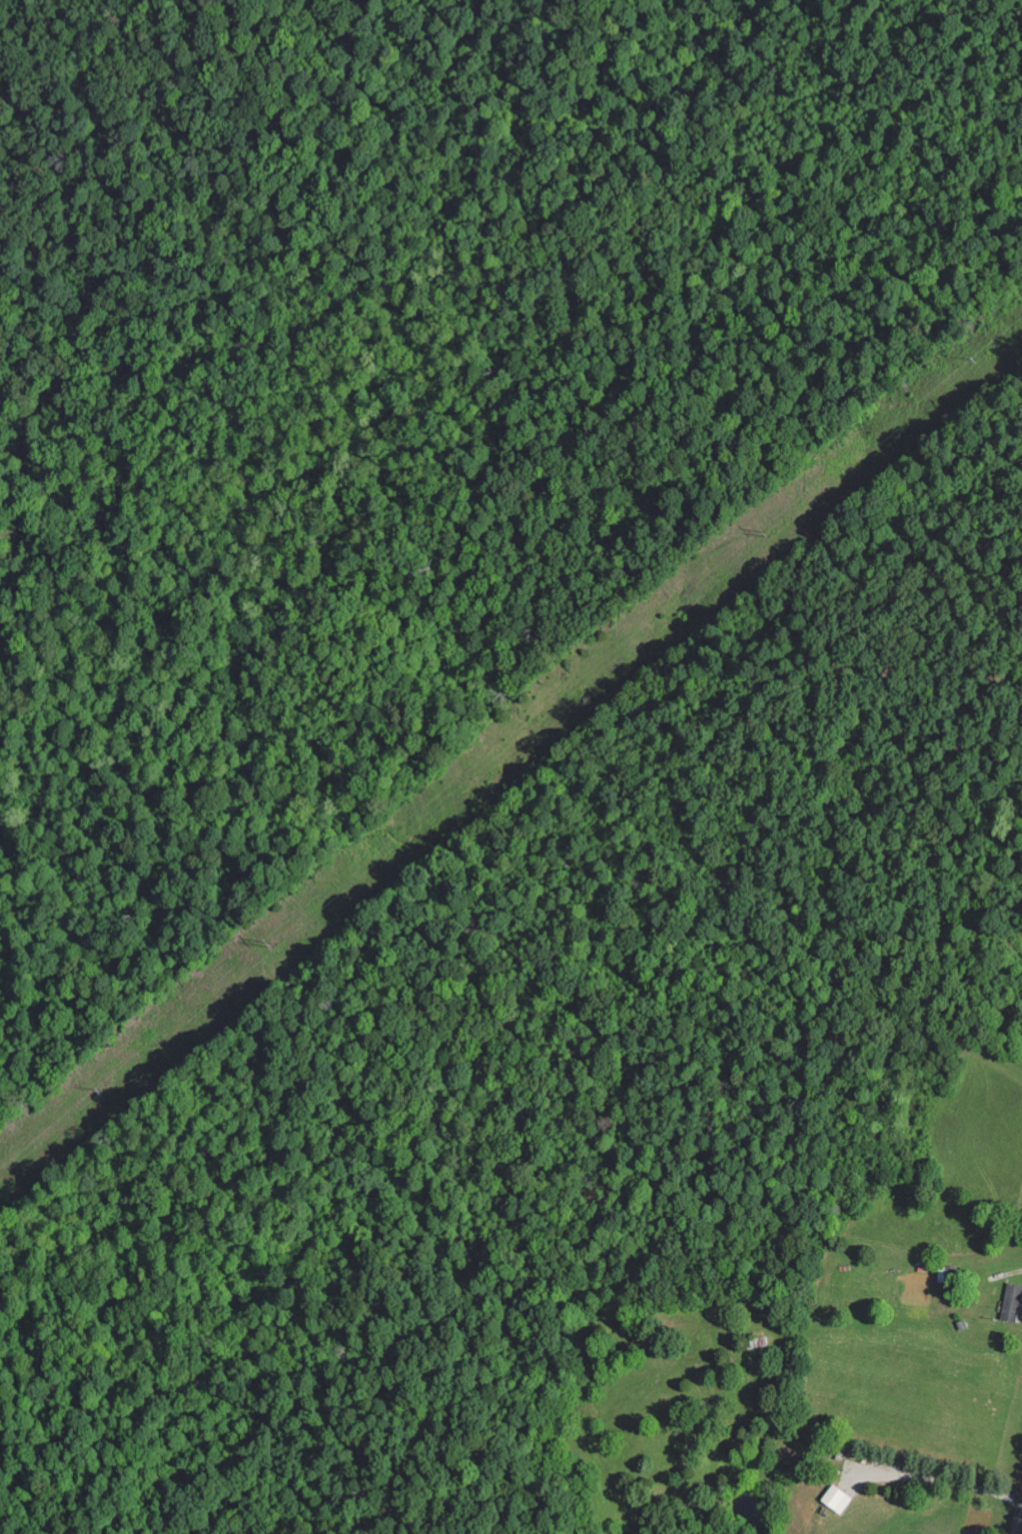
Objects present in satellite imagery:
building: (946, 1275)
building: (1012, 1303)
building: (836, 1500)
road: (1018, 1519)

